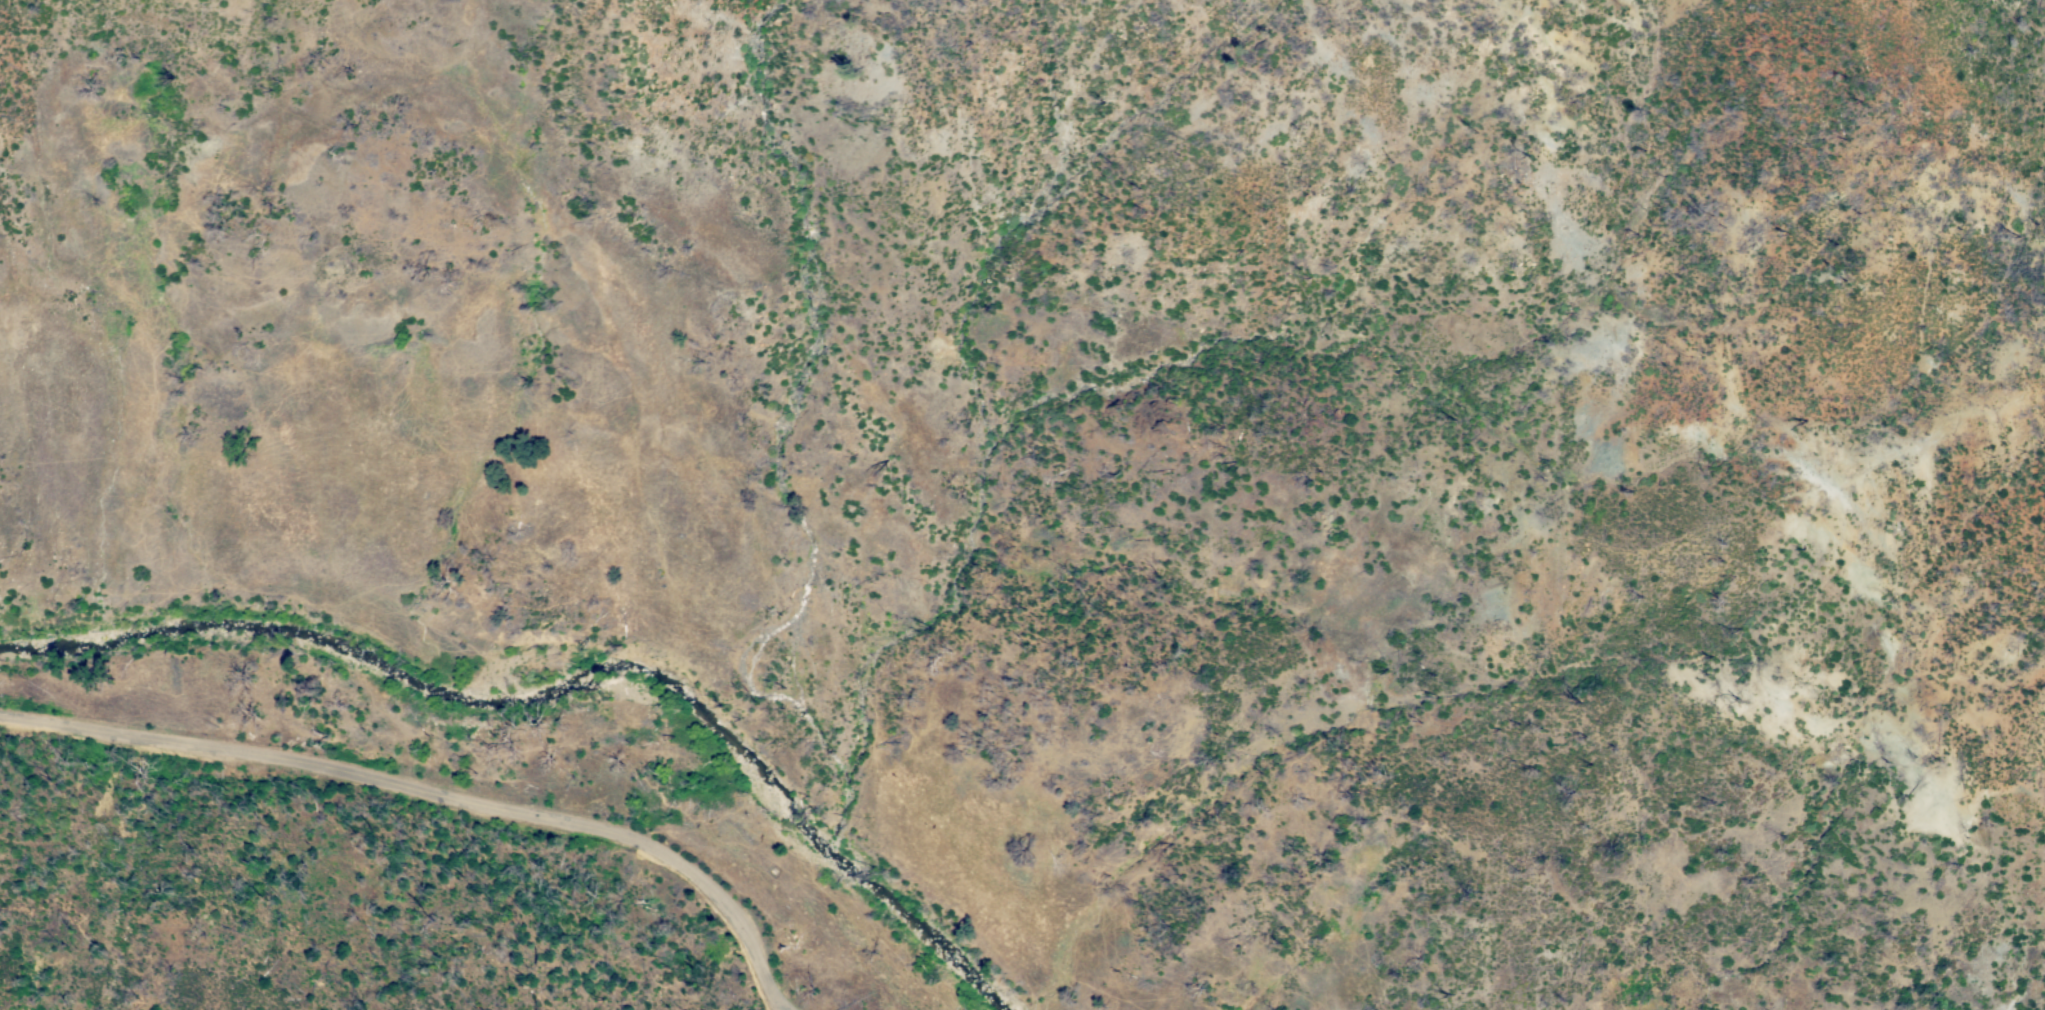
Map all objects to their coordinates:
road: (433, 797)

